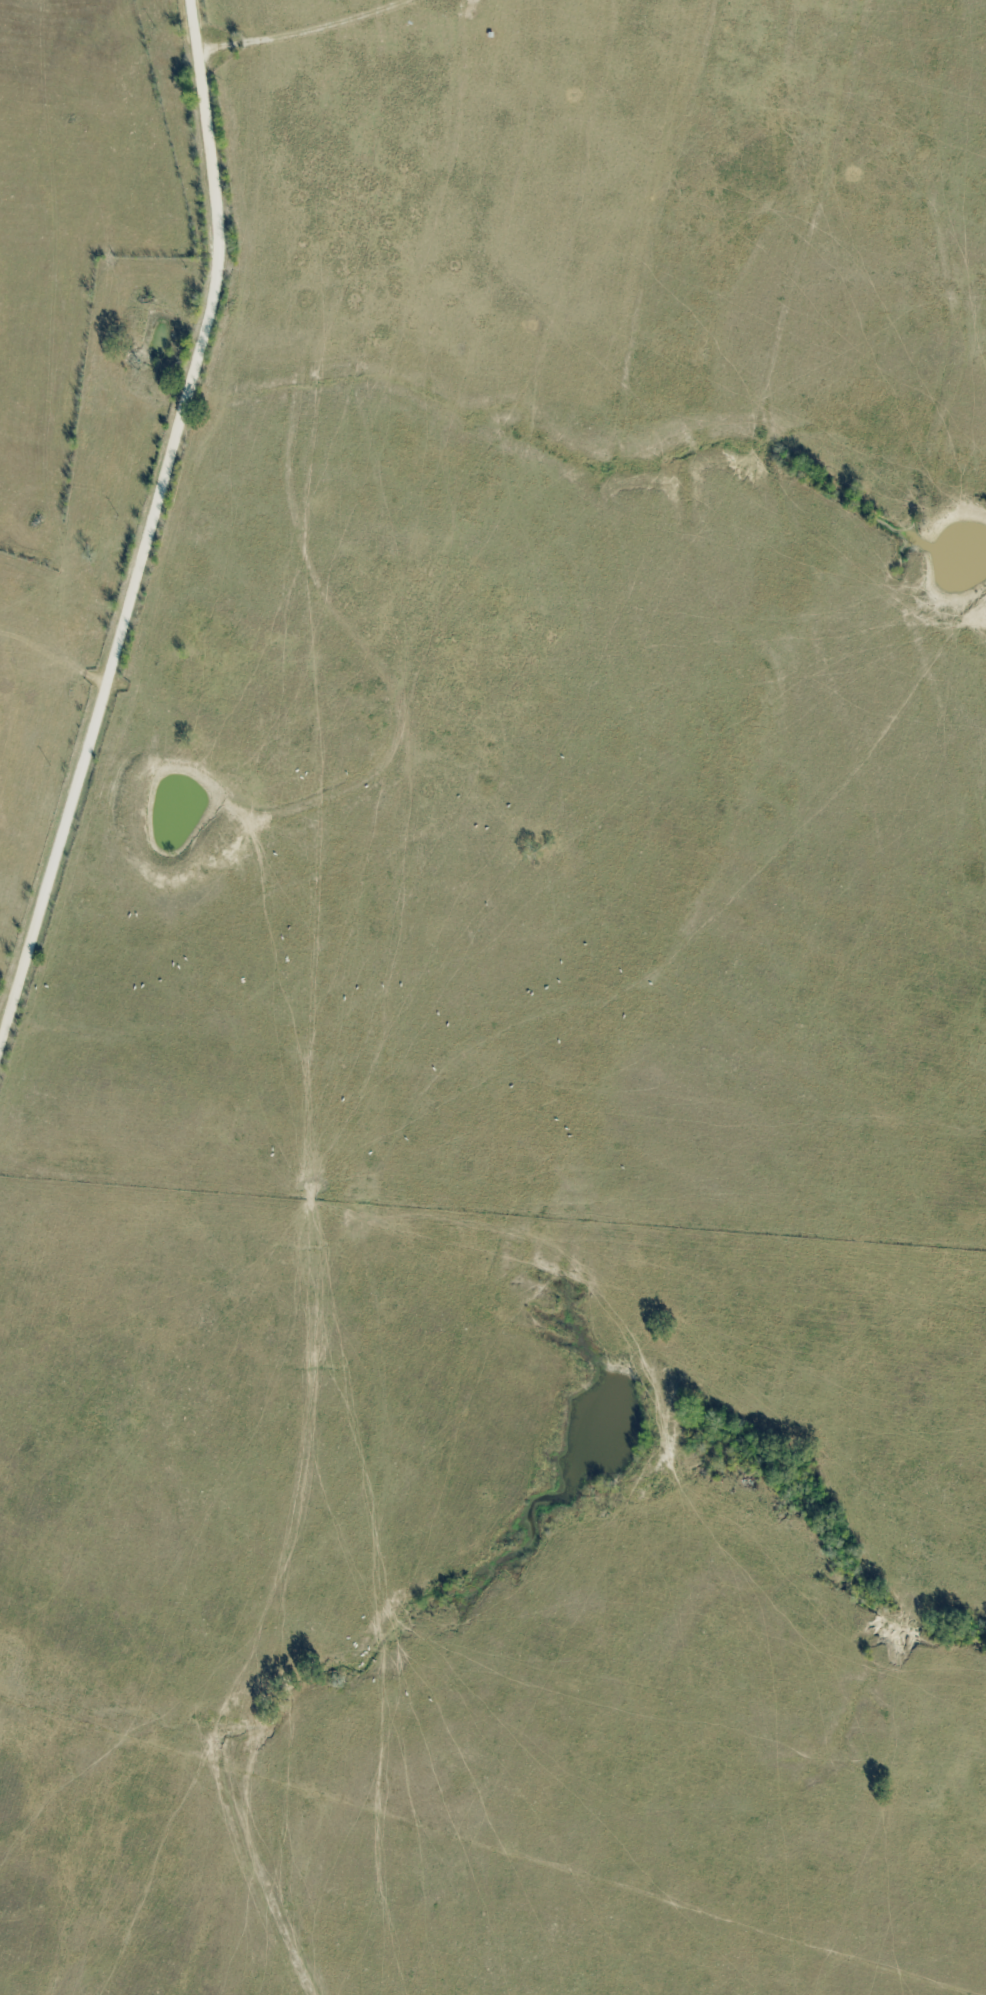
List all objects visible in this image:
road: (149, 527)

